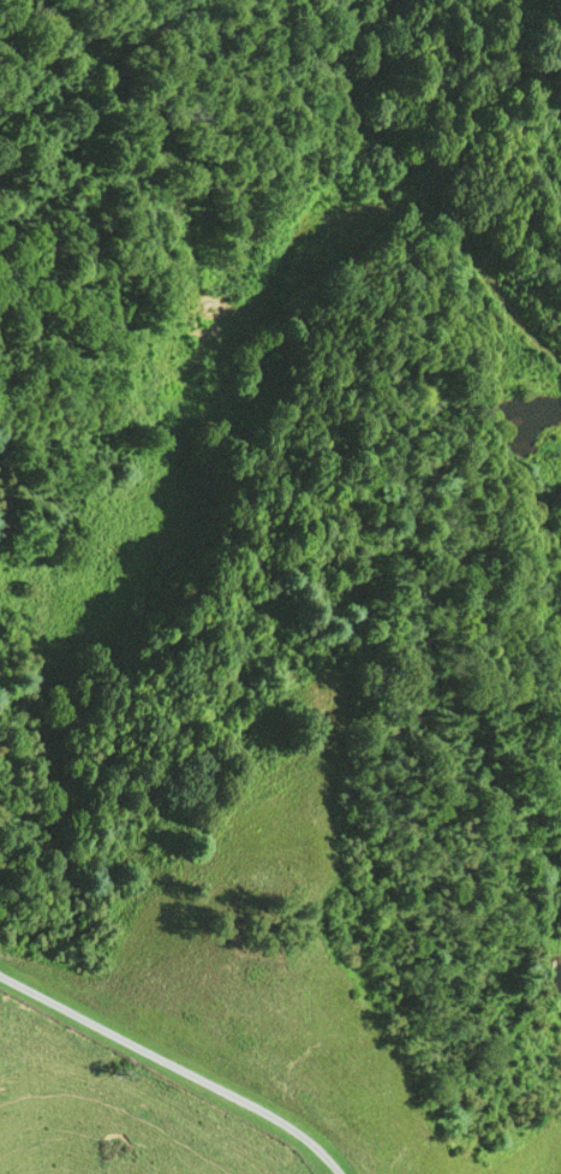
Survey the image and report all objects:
road: (513, 283)
road: (174, 1067)

